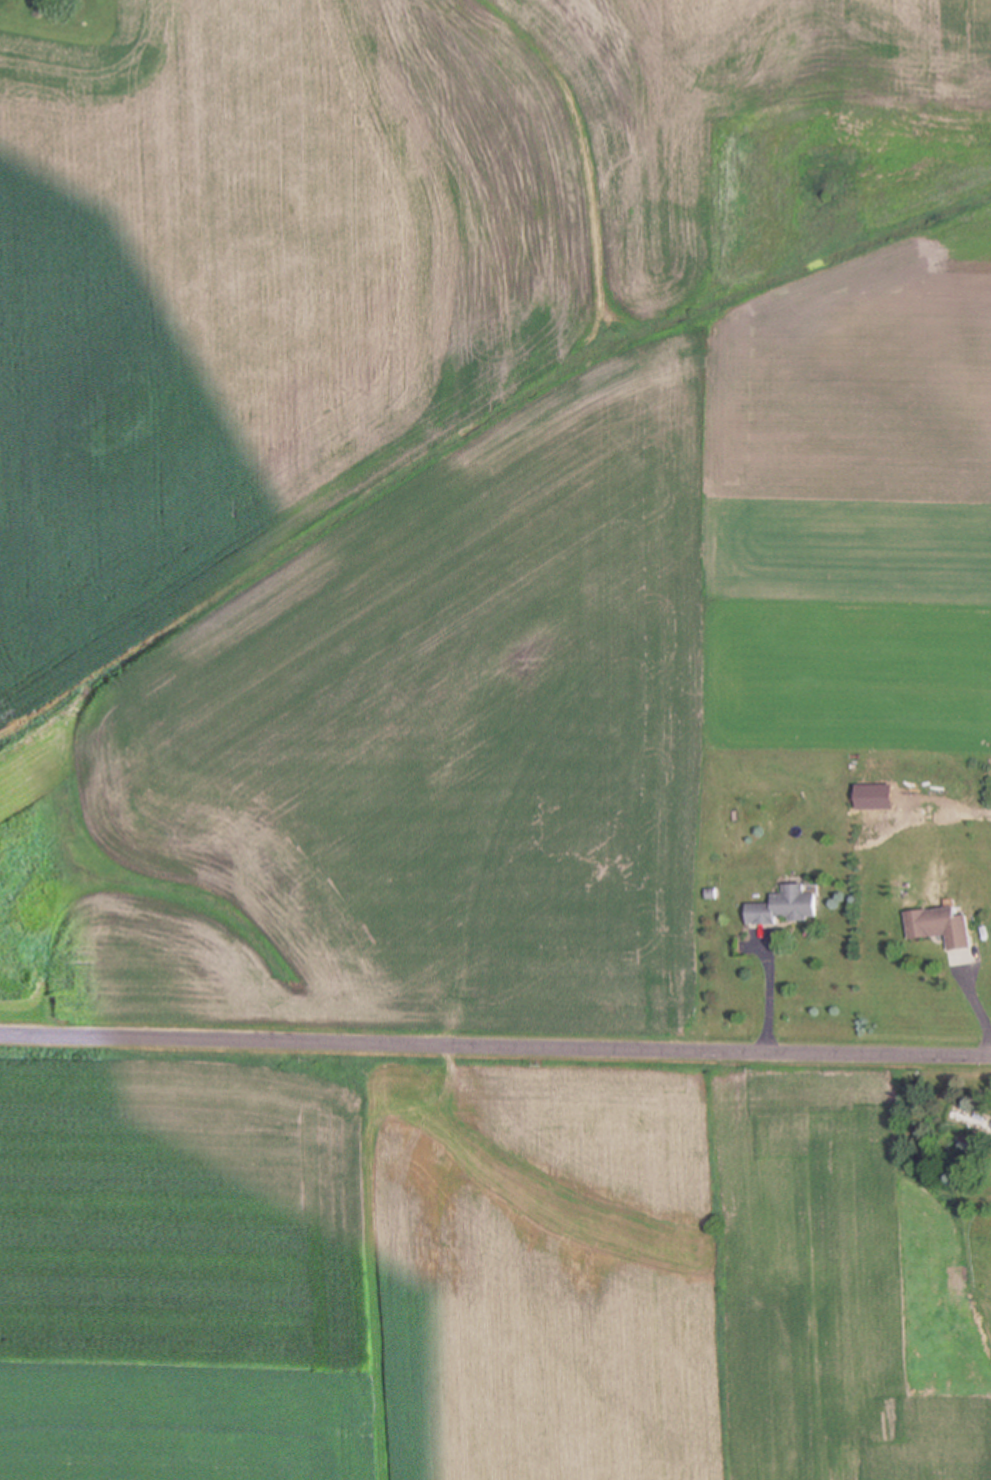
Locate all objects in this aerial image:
building: (788, 906)
building: (940, 921)
road: (772, 994)
road: (495, 1042)
building: (971, 1120)

